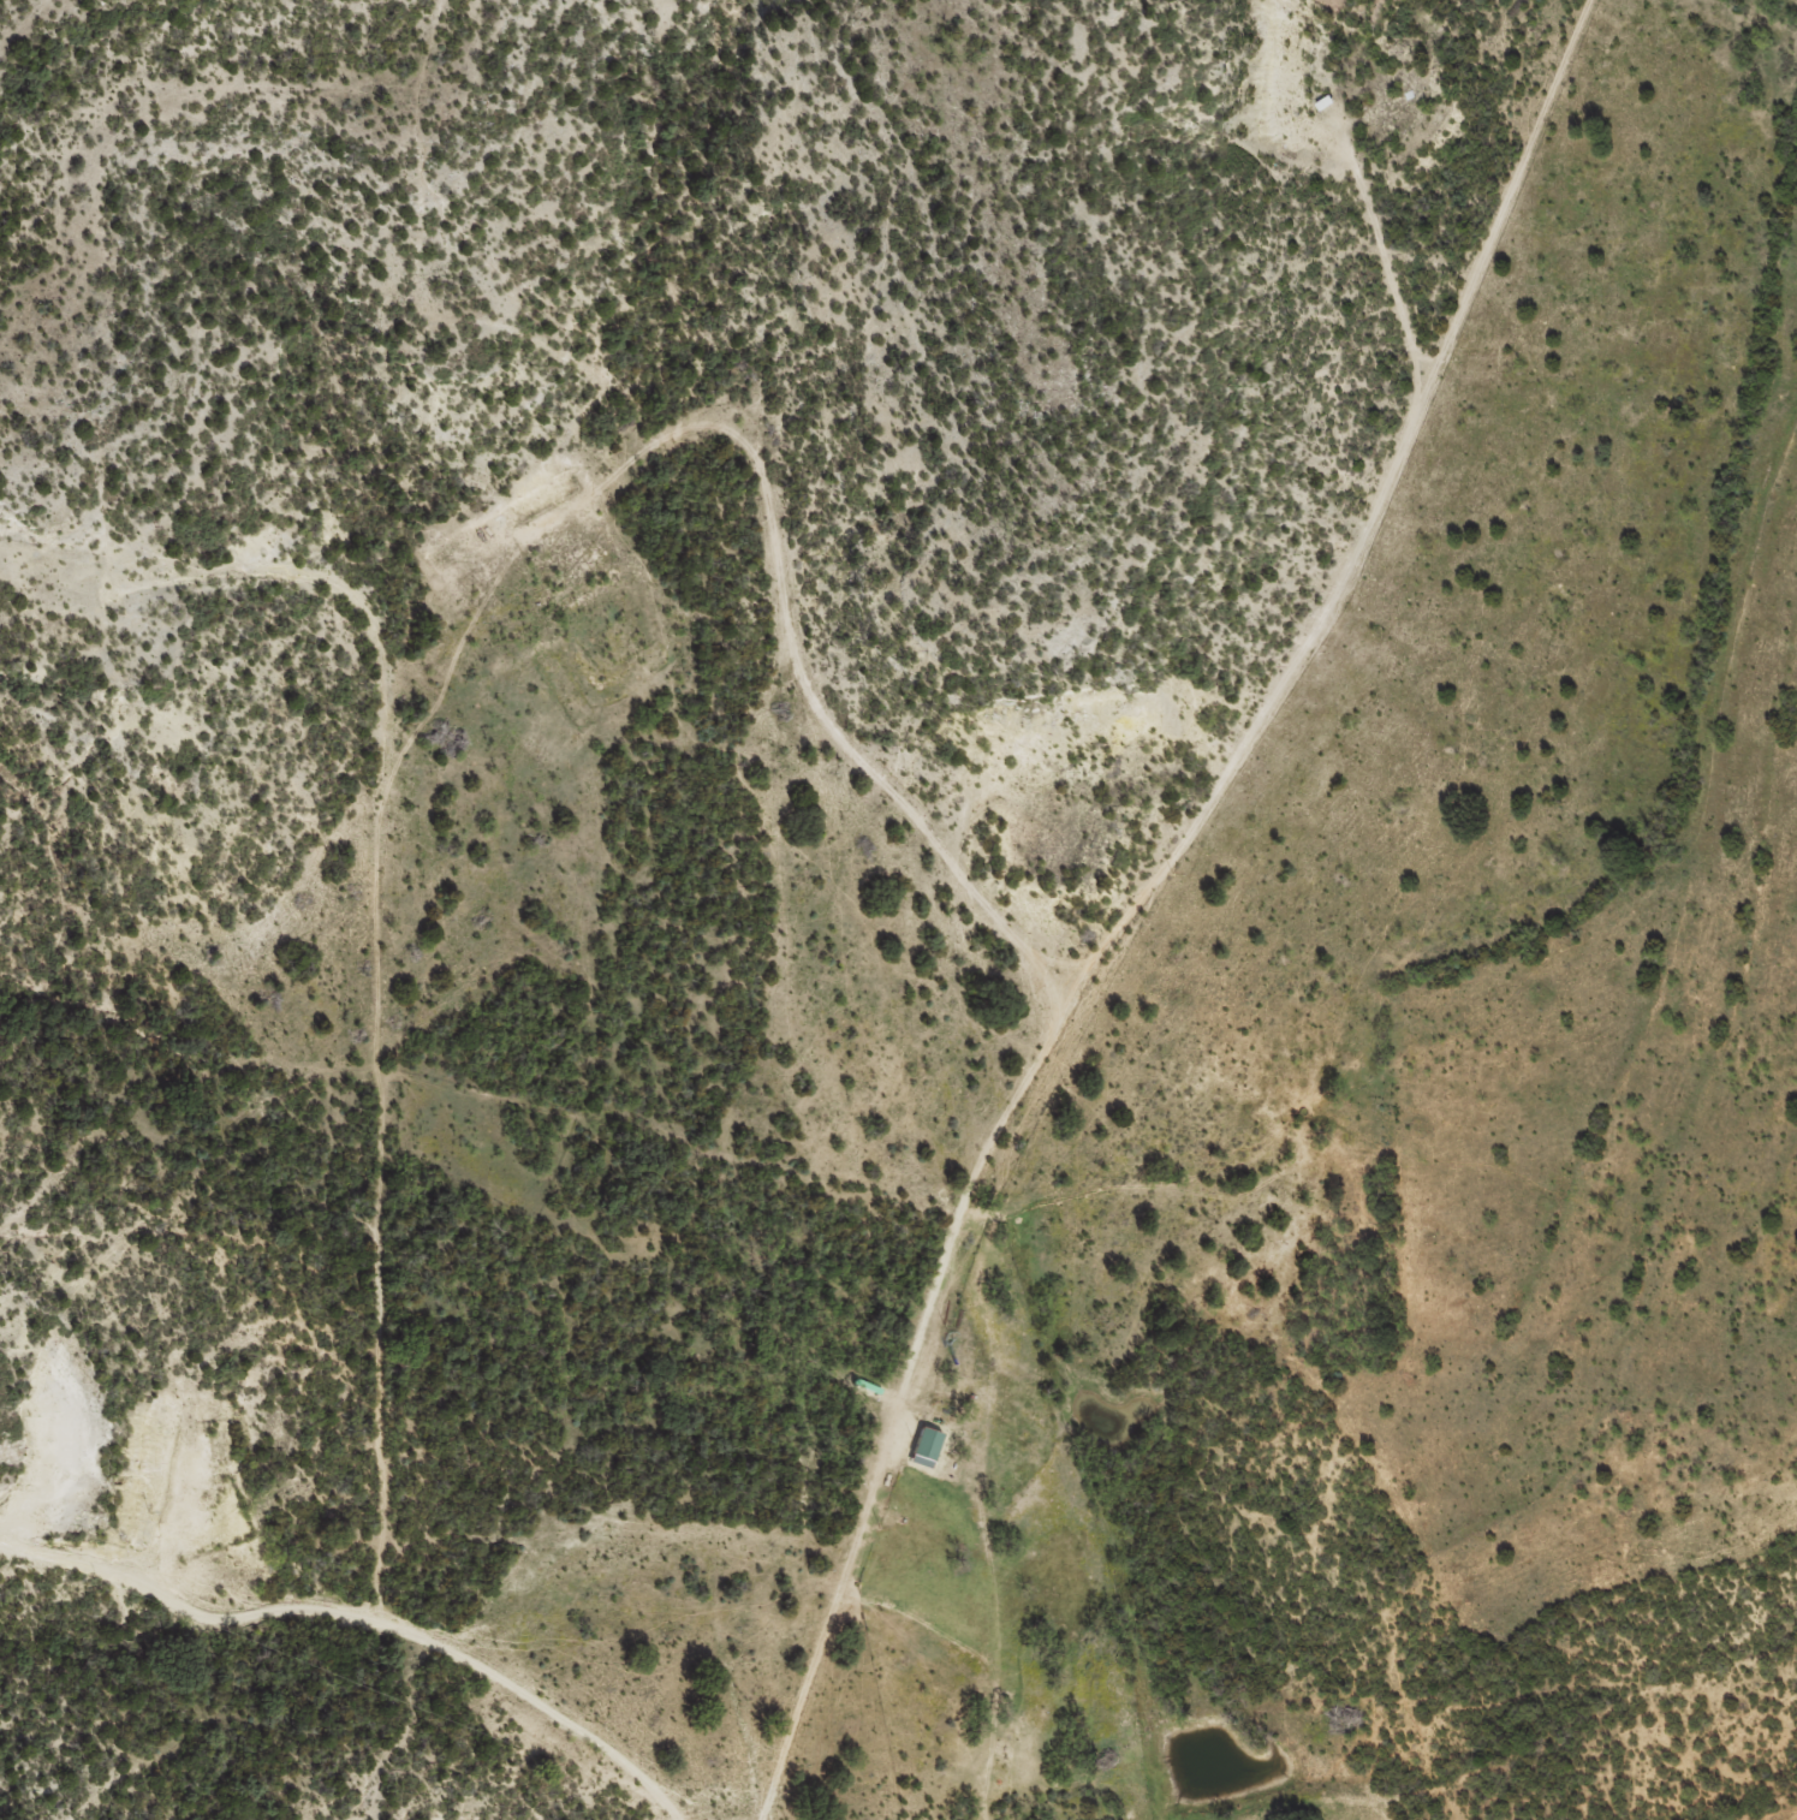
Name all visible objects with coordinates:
road: (1176, 874)
road: (391, 1017)
building: (928, 1446)
road: (335, 1638)

